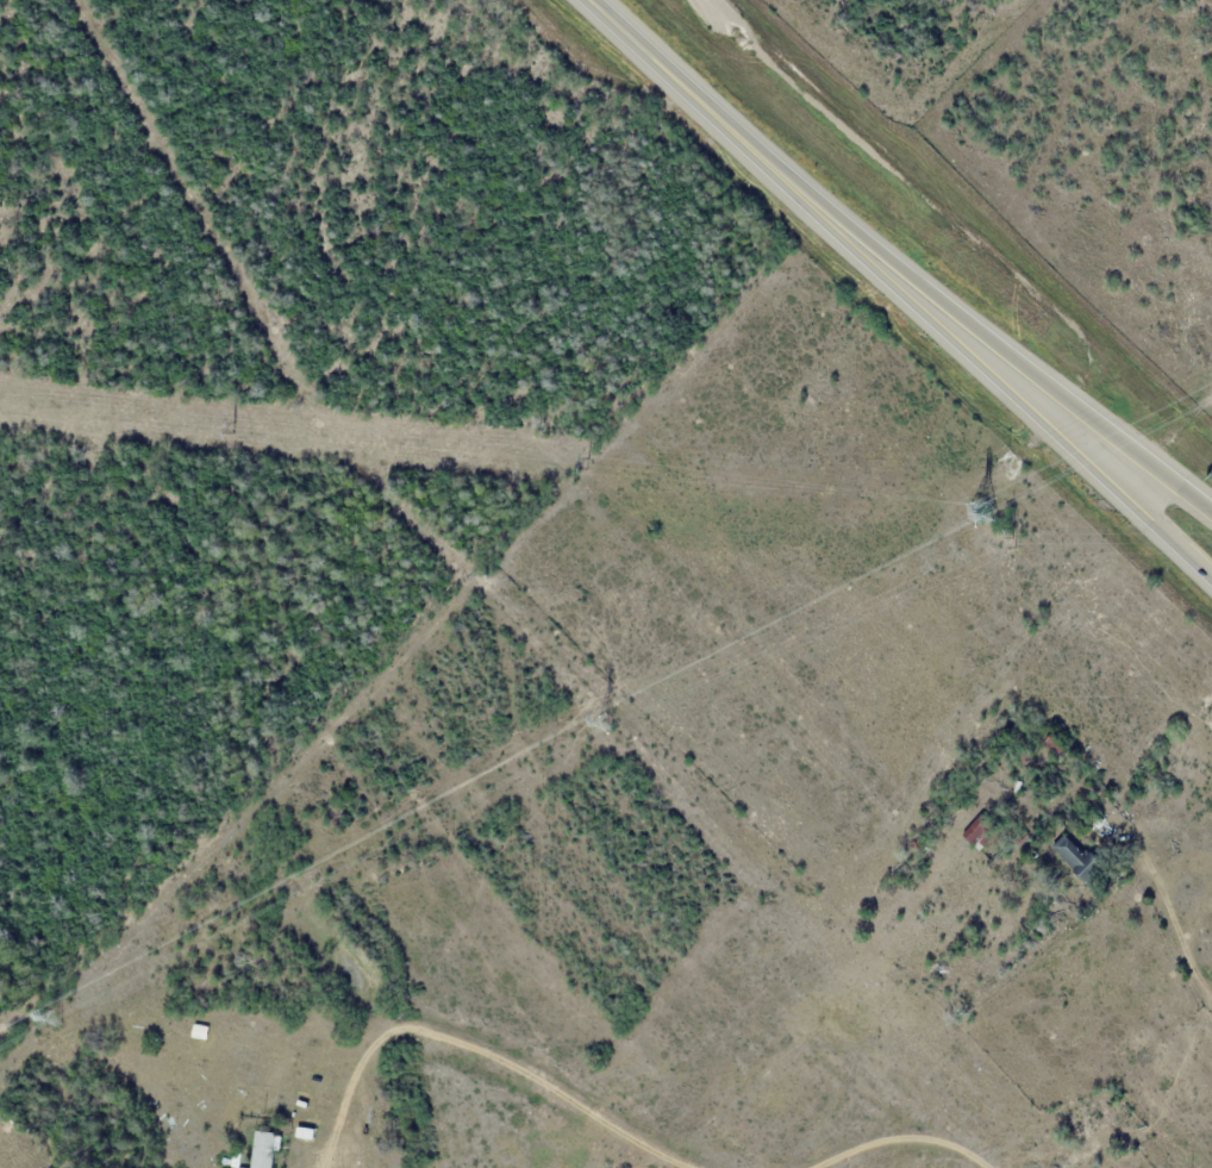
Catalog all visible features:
road: (658, 64)
road: (966, 321)
road: (954, 343)
power tower: (230, 424)
power tower: (581, 458)
road: (1152, 493)
power tower: (979, 512)
power tower: (1007, 535)
road: (1200, 564)
power tower: (602, 723)
building: (977, 832)
building: (1075, 857)
power tower: (54, 1017)
building: (262, 1149)
building: (231, 1162)

